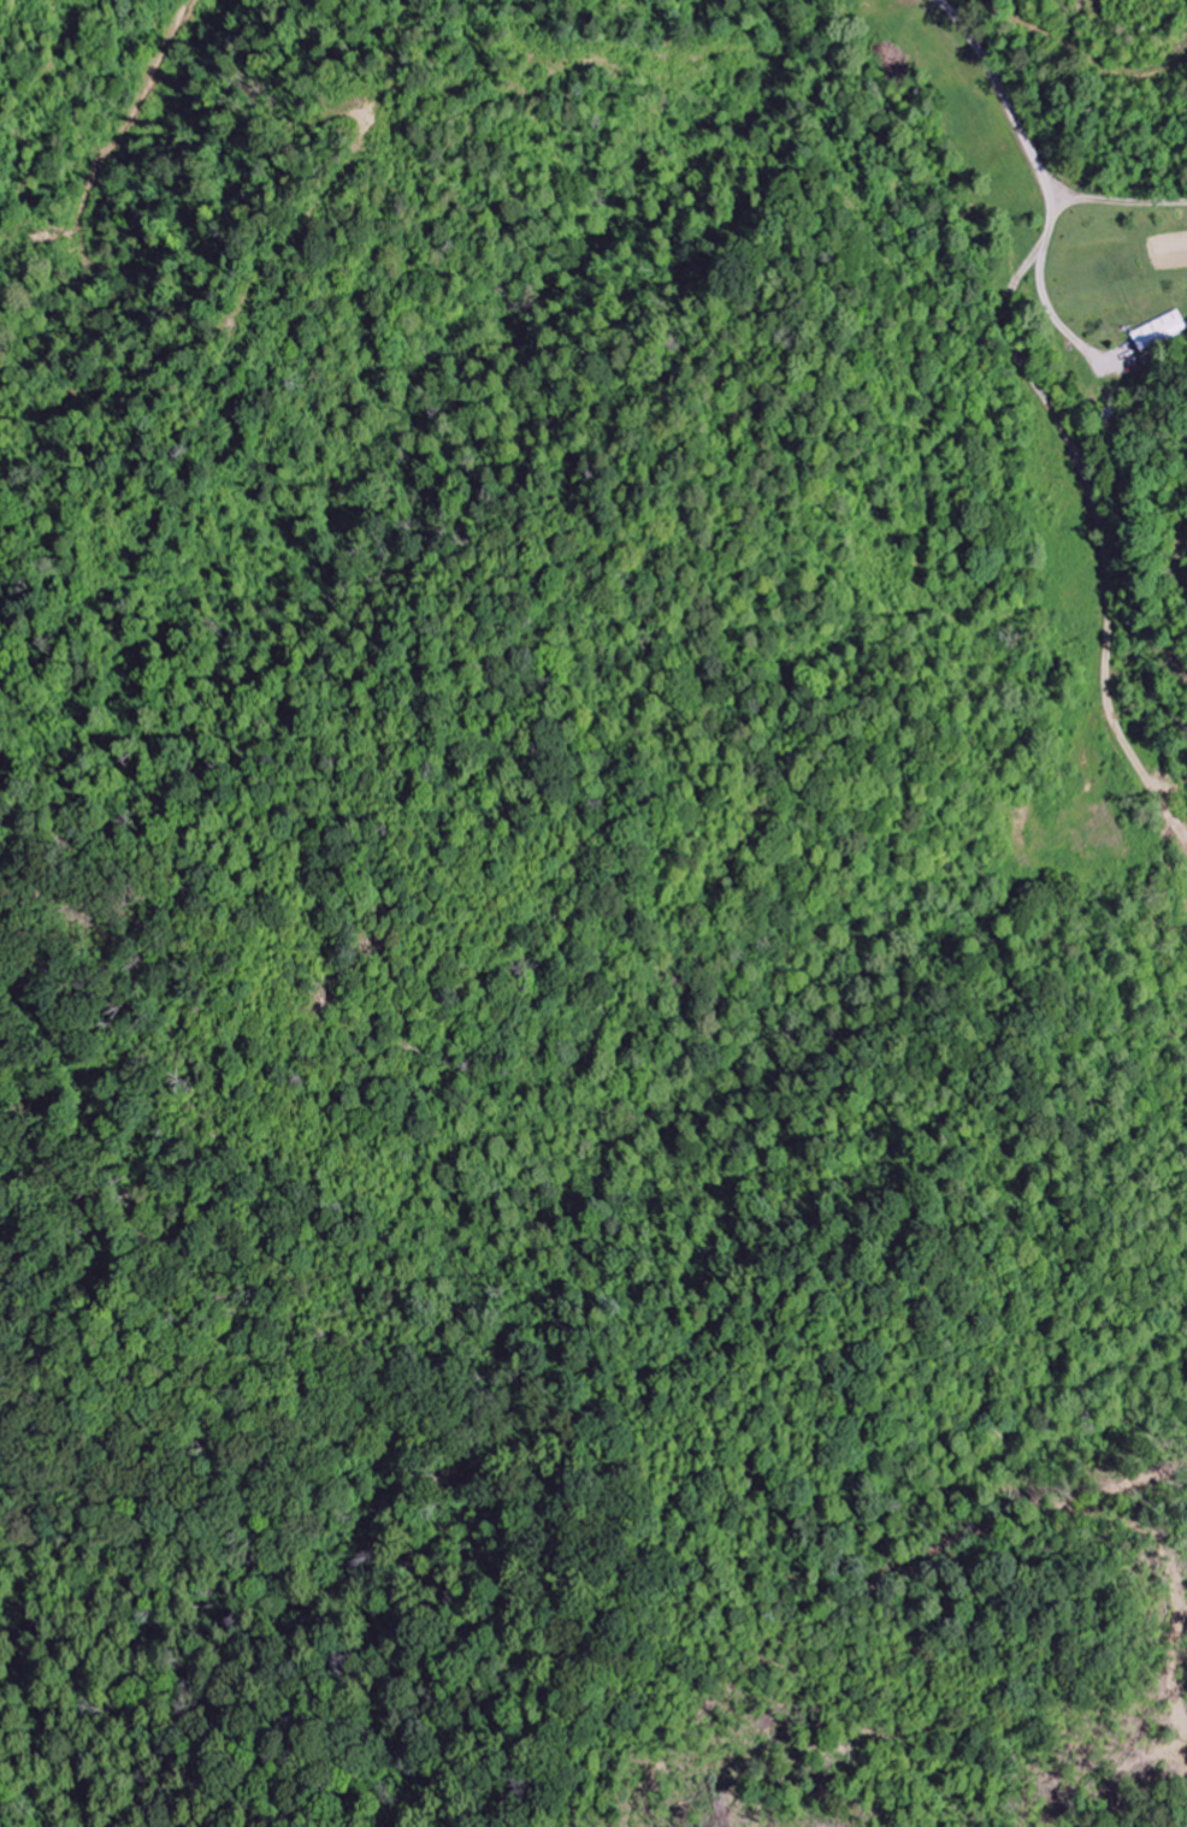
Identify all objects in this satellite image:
road: (1086, 292)
building: (1161, 332)

